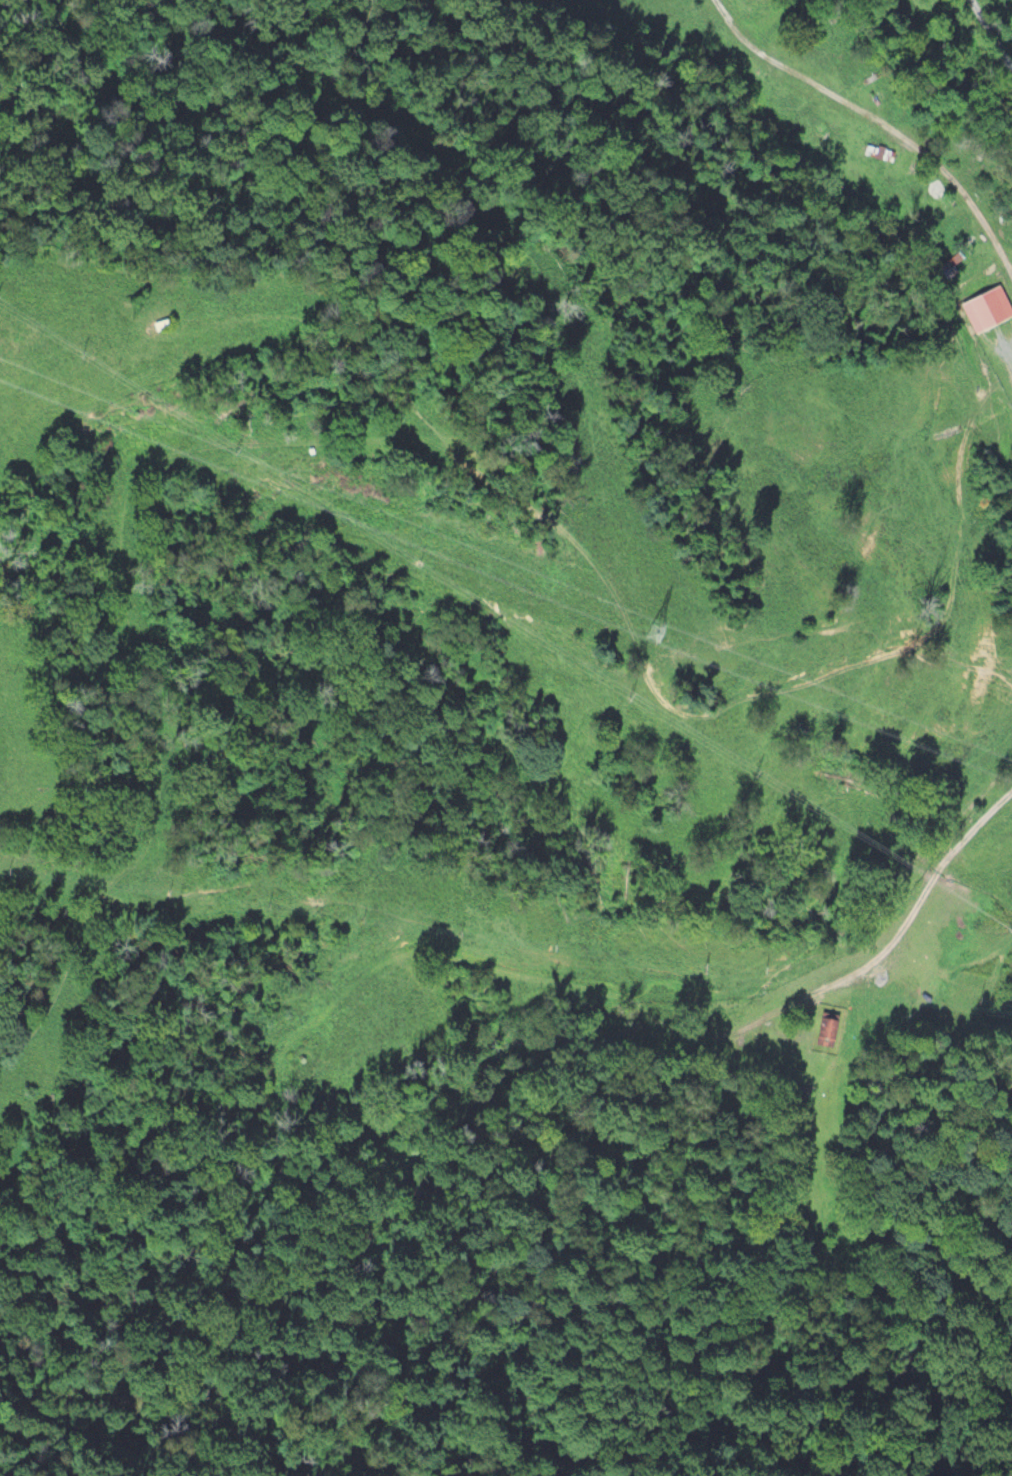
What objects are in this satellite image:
road: (1002, 16)
building: (985, 306)
building: (161, 322)
building: (826, 1027)

